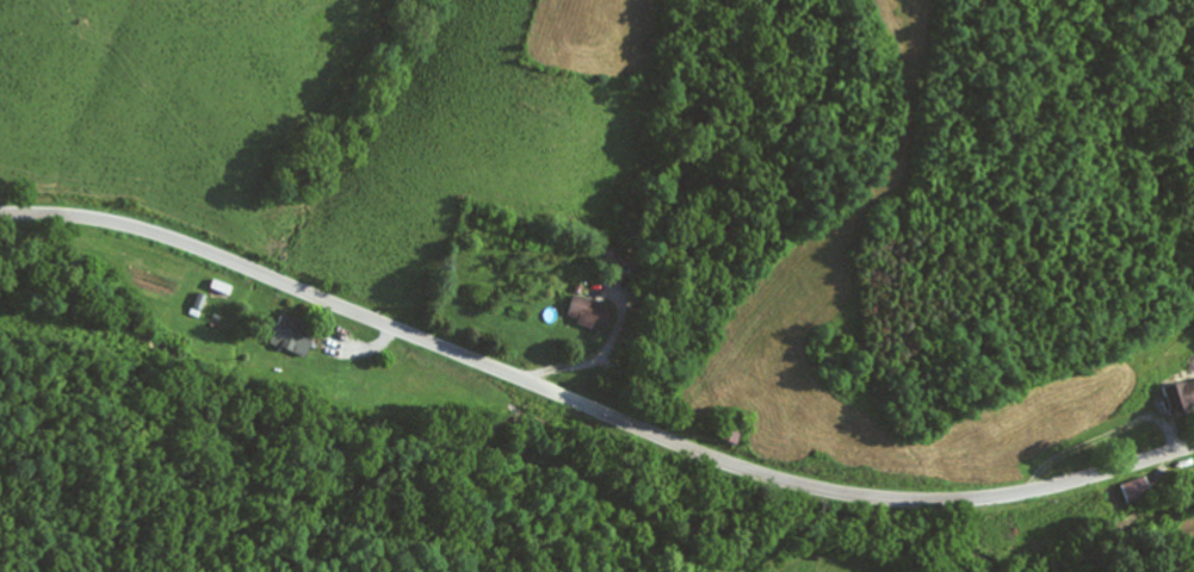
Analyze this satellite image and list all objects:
building: (588, 312)
building: (292, 336)
building: (1180, 393)
road: (589, 409)
building: (731, 429)

